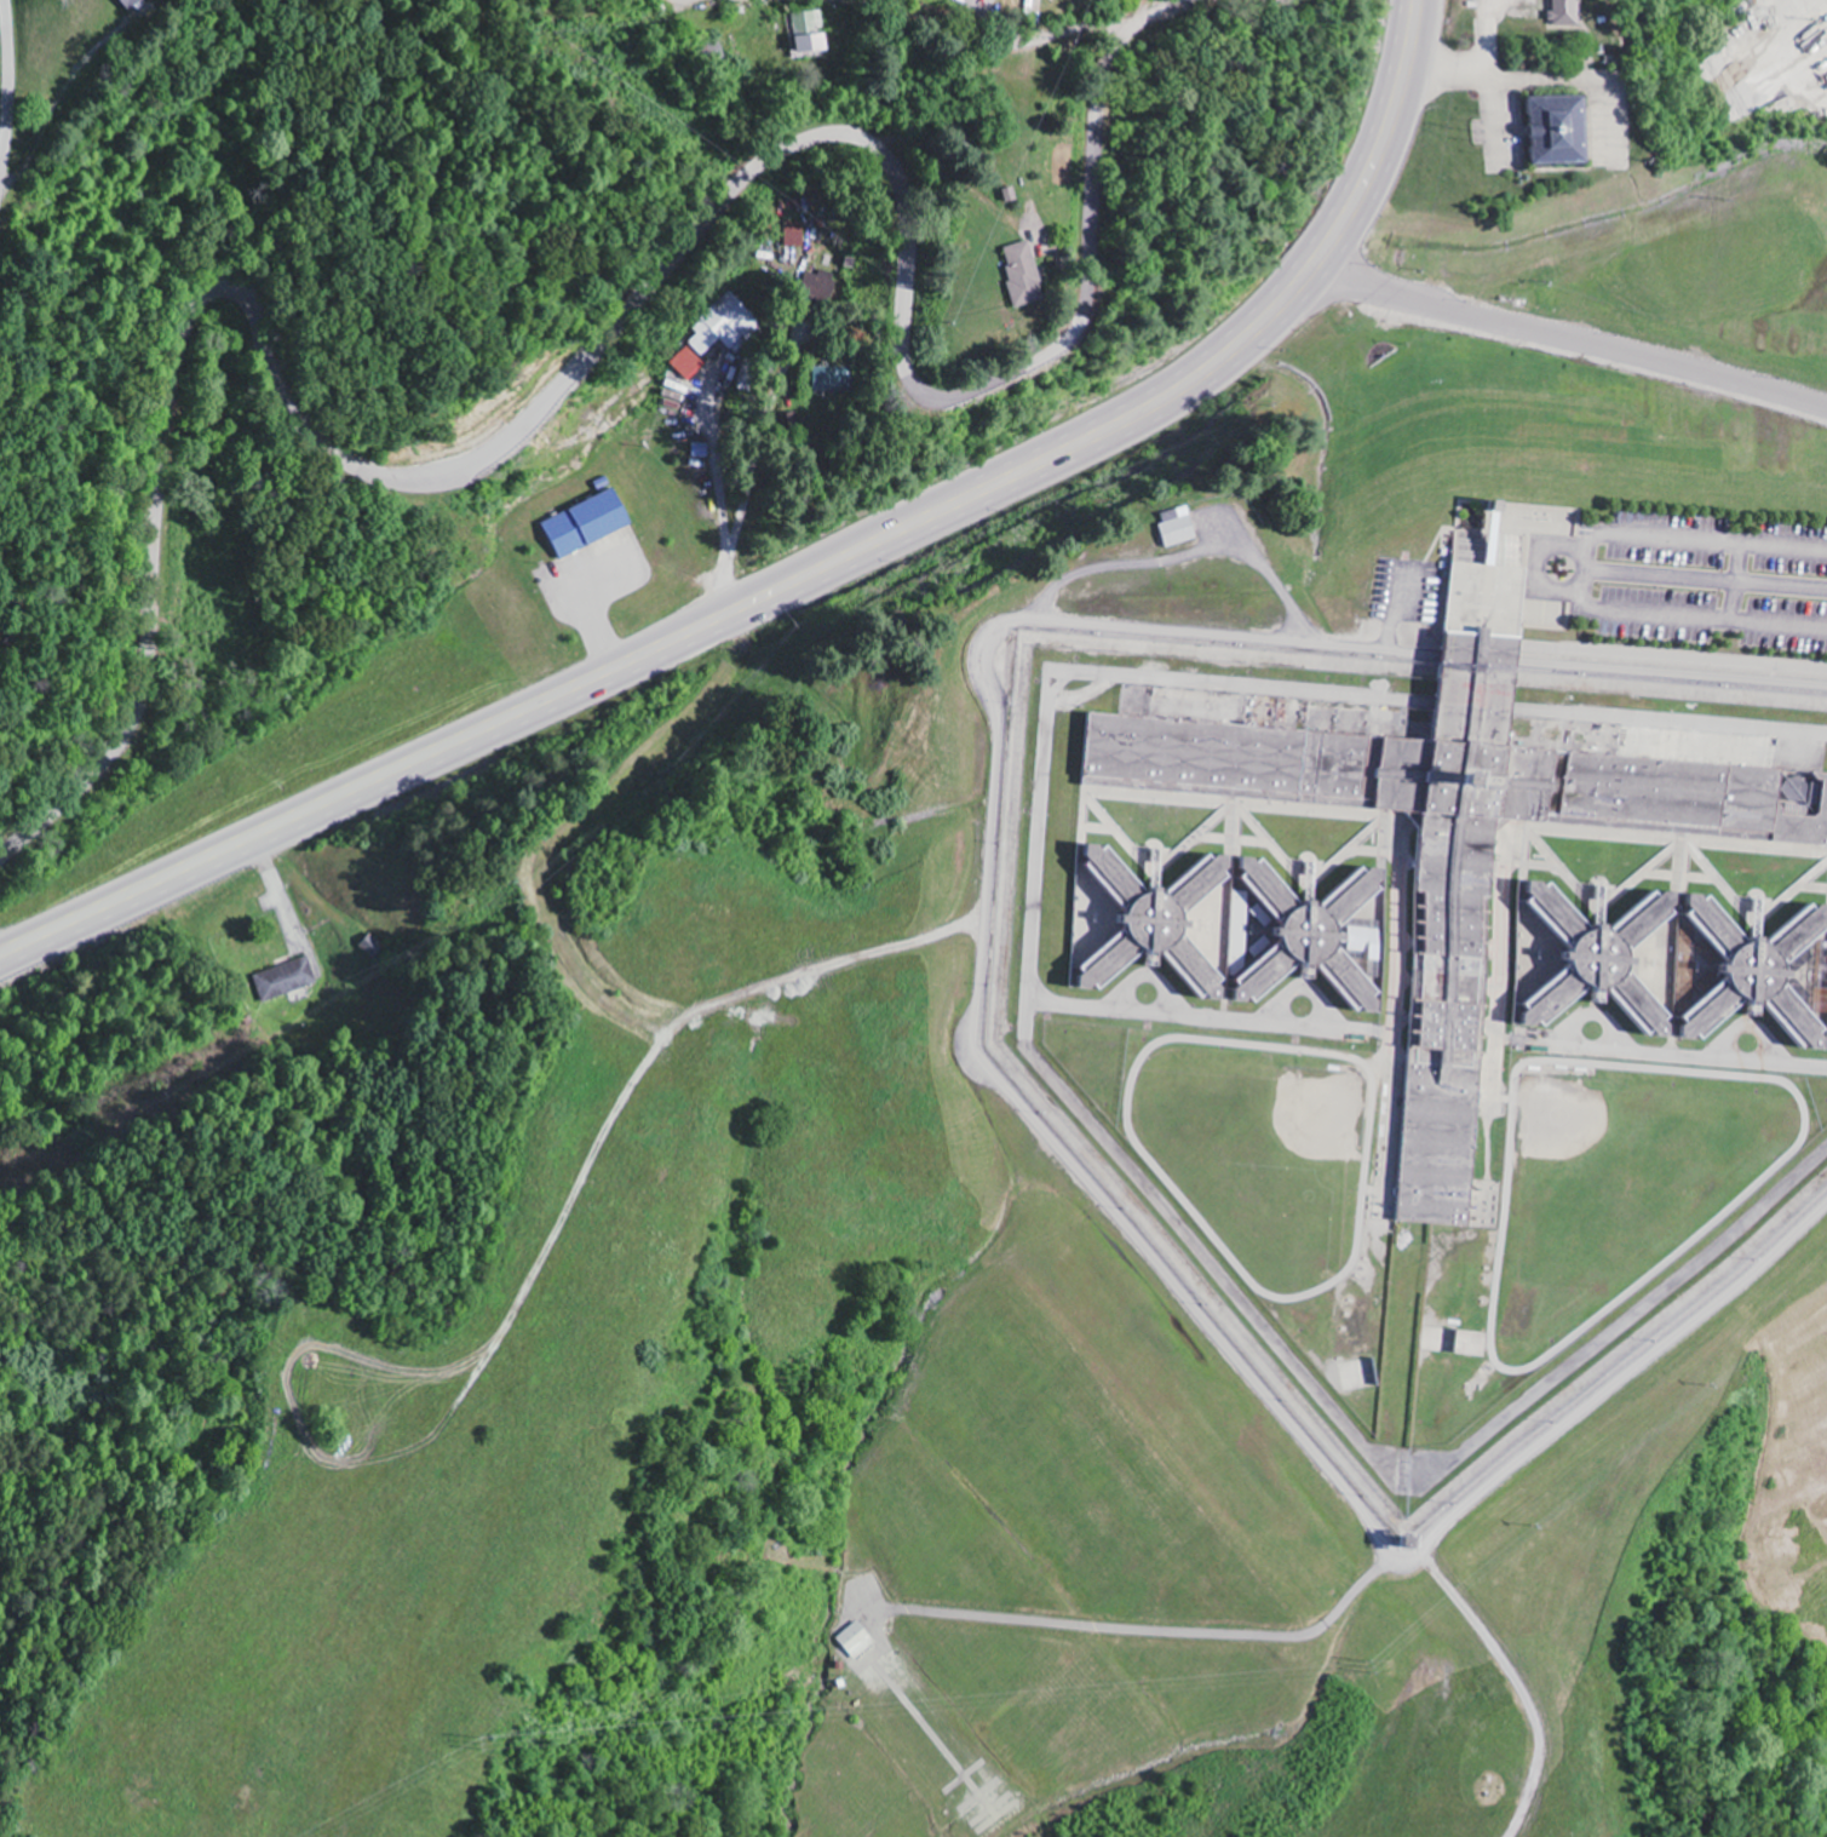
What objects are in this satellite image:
road: (1269, 0)
road: (1174, 2)
building: (131, 4)
building: (1562, 12)
road: (578, 15)
building: (810, 33)
road: (977, 42)
road: (6, 87)
building: (1564, 134)
building: (795, 235)
building: (1025, 275)
building: (724, 326)
road: (1564, 344)
road: (598, 350)
building: (686, 363)
building: (587, 524)
building: (1180, 527)
road: (805, 580)
parking lot: (1713, 581)
building: (1465, 832)
building: (1239, 930)
building: (1672, 965)
building: (287, 980)
building: (862, 1640)

